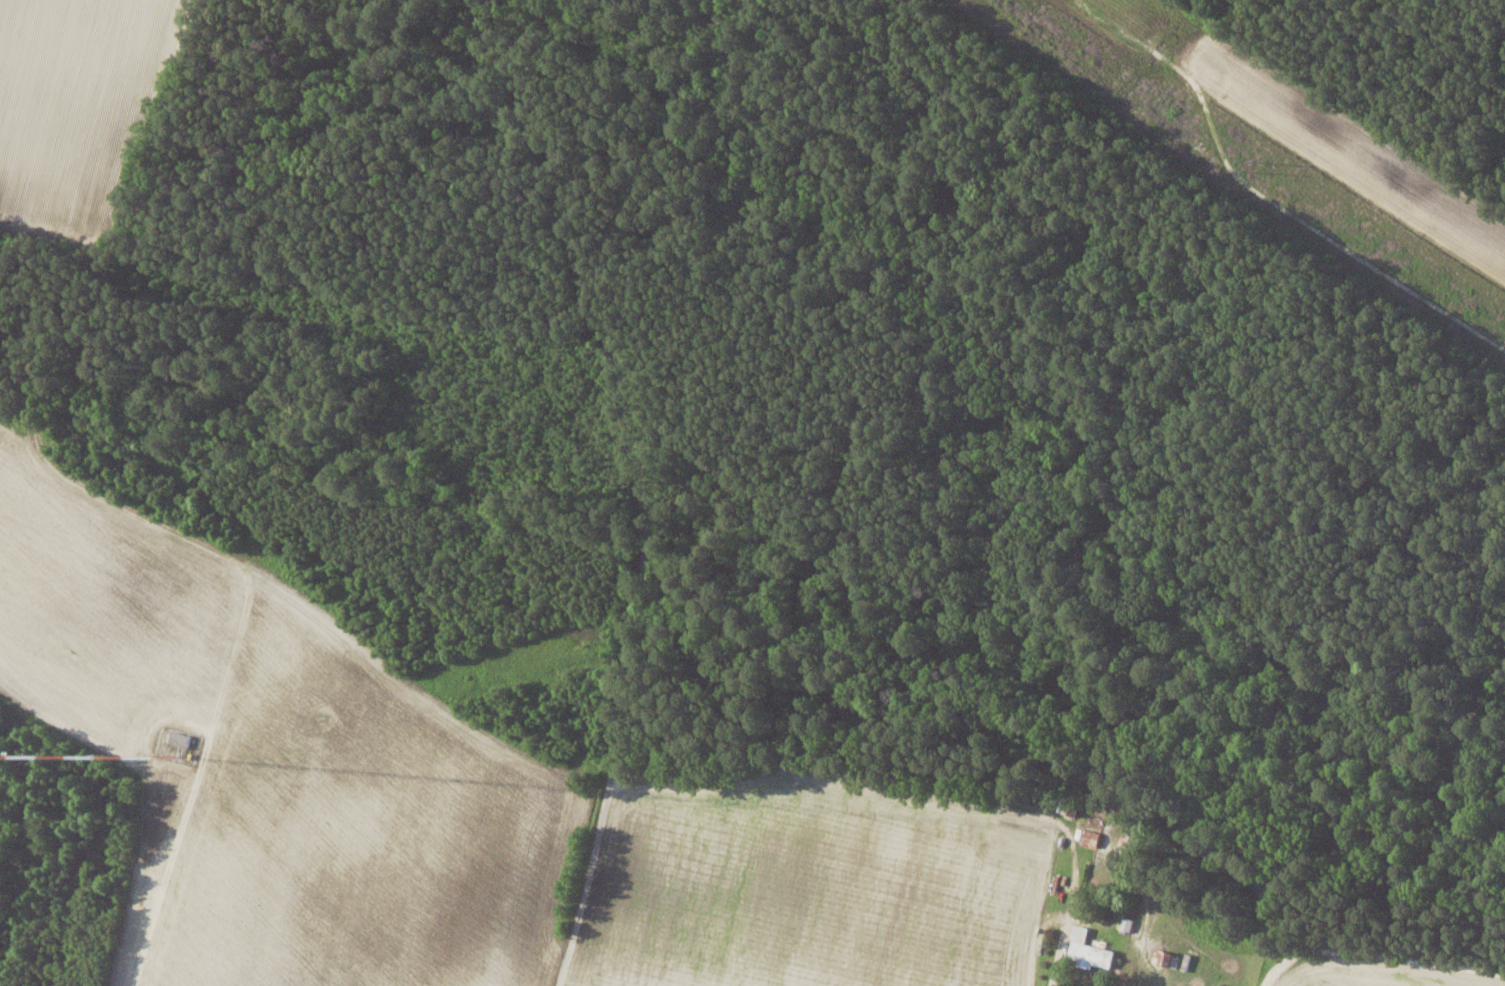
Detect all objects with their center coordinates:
power tower: (1258, 165)
road: (641, 489)
building: (180, 739)
building: (1091, 837)
road: (176, 843)
building: (1088, 949)
road: (1376, 955)
building: (1166, 957)
road: (1052, 975)

